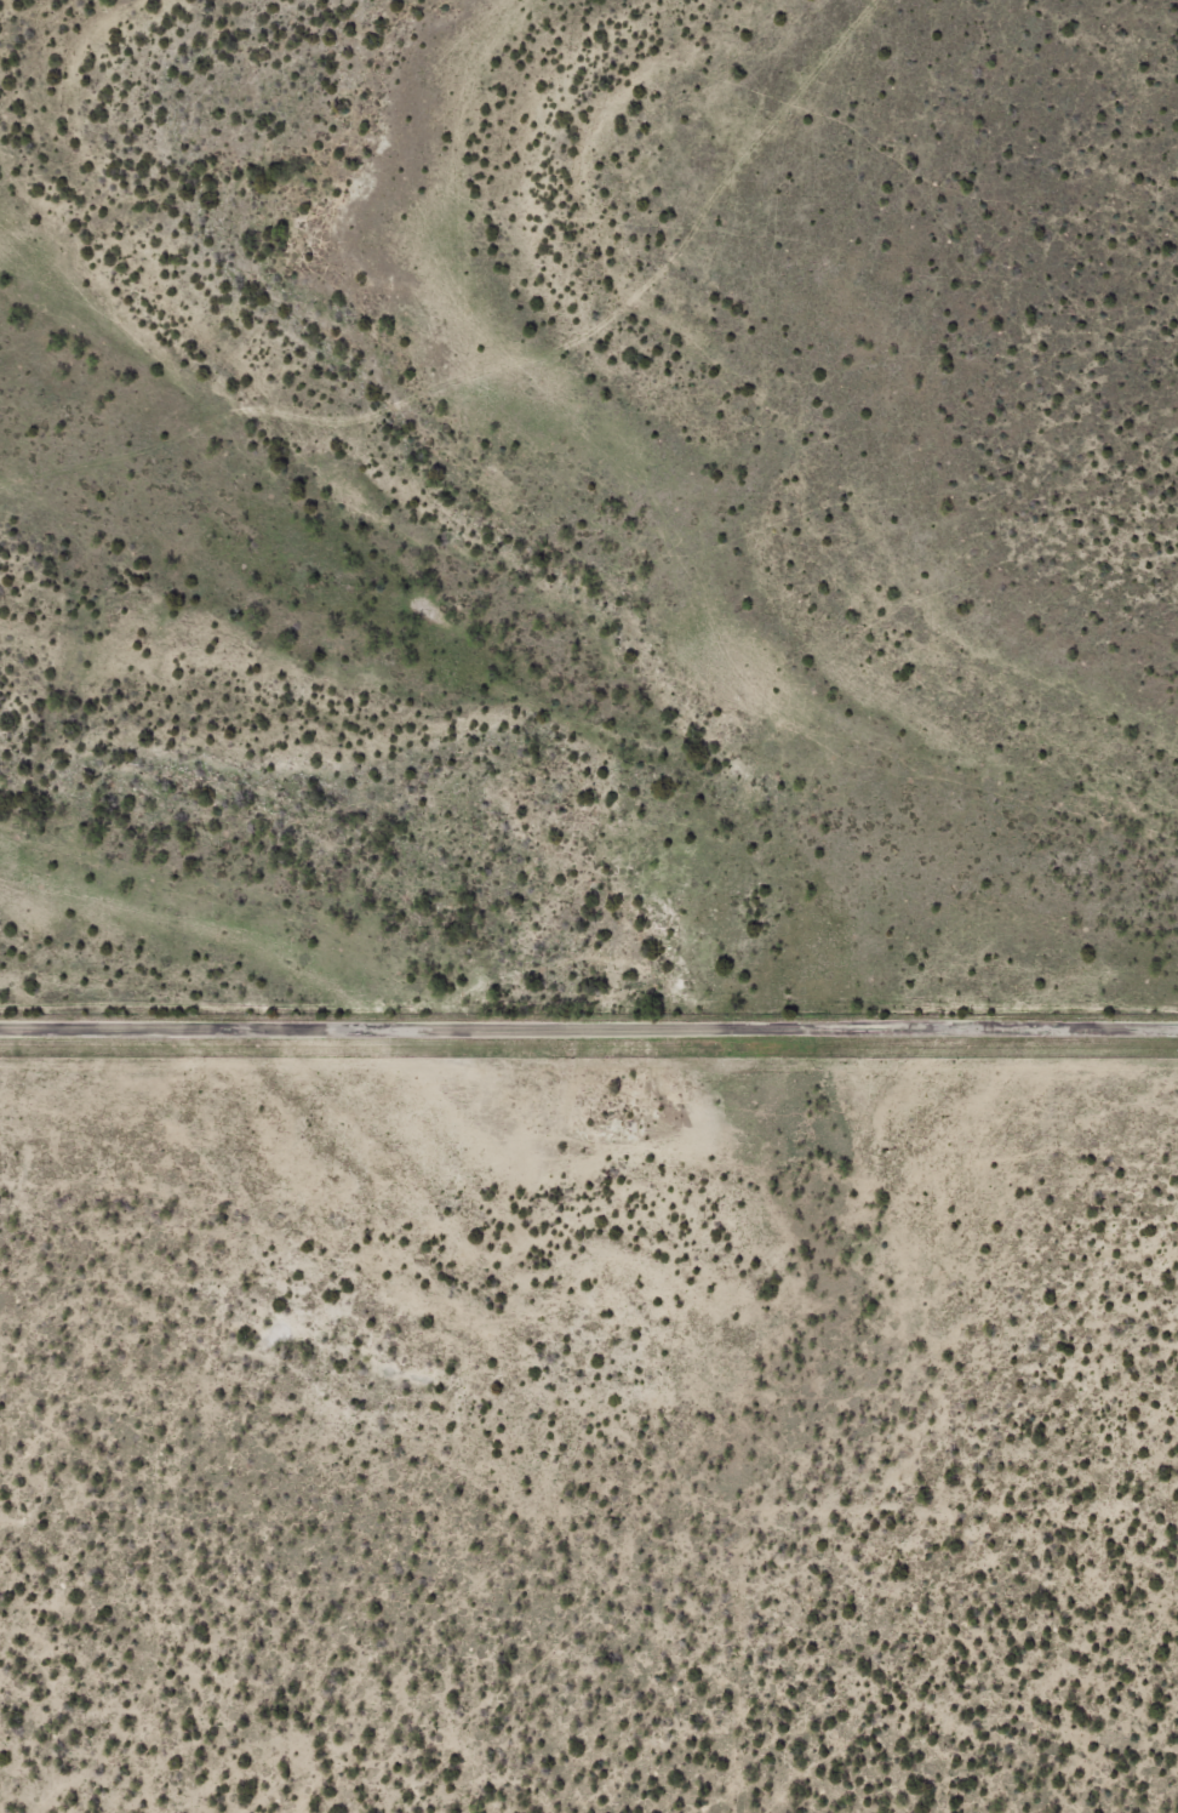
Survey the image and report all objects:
road: (589, 1028)

